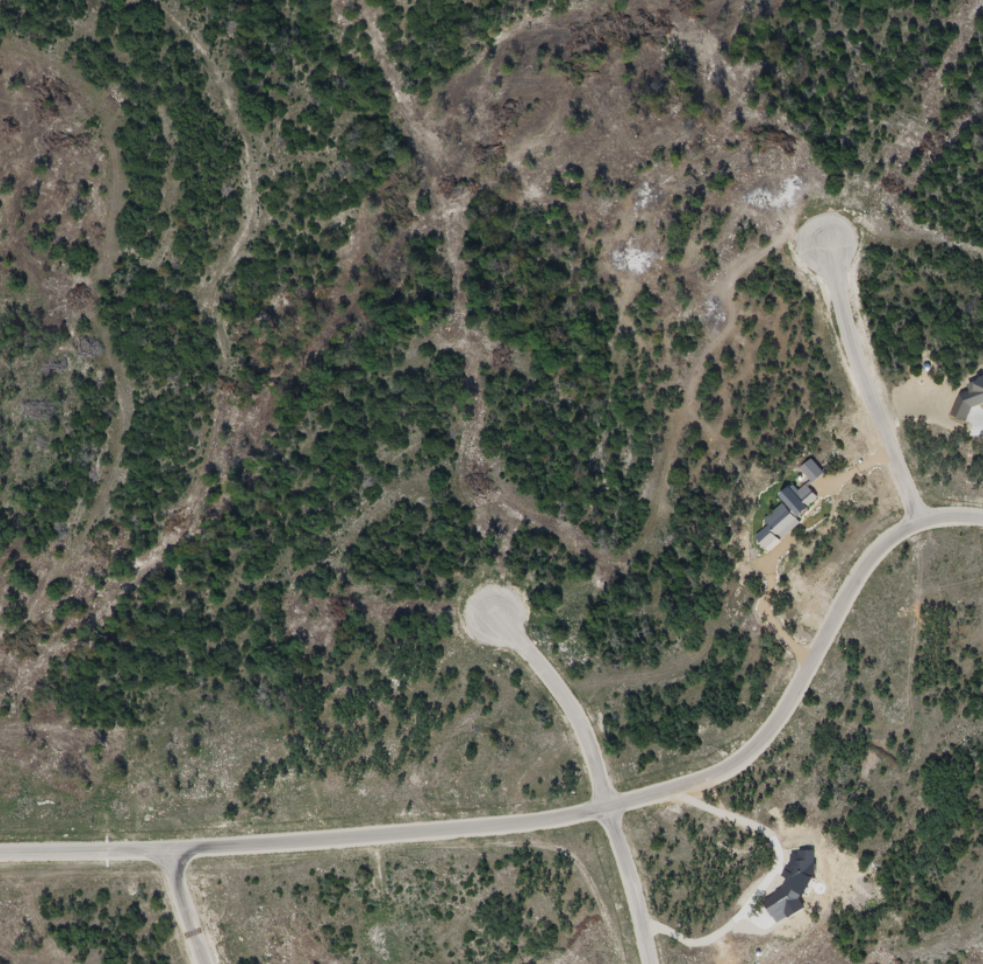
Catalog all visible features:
road: (557, 812)
road: (628, 883)
road: (187, 908)

